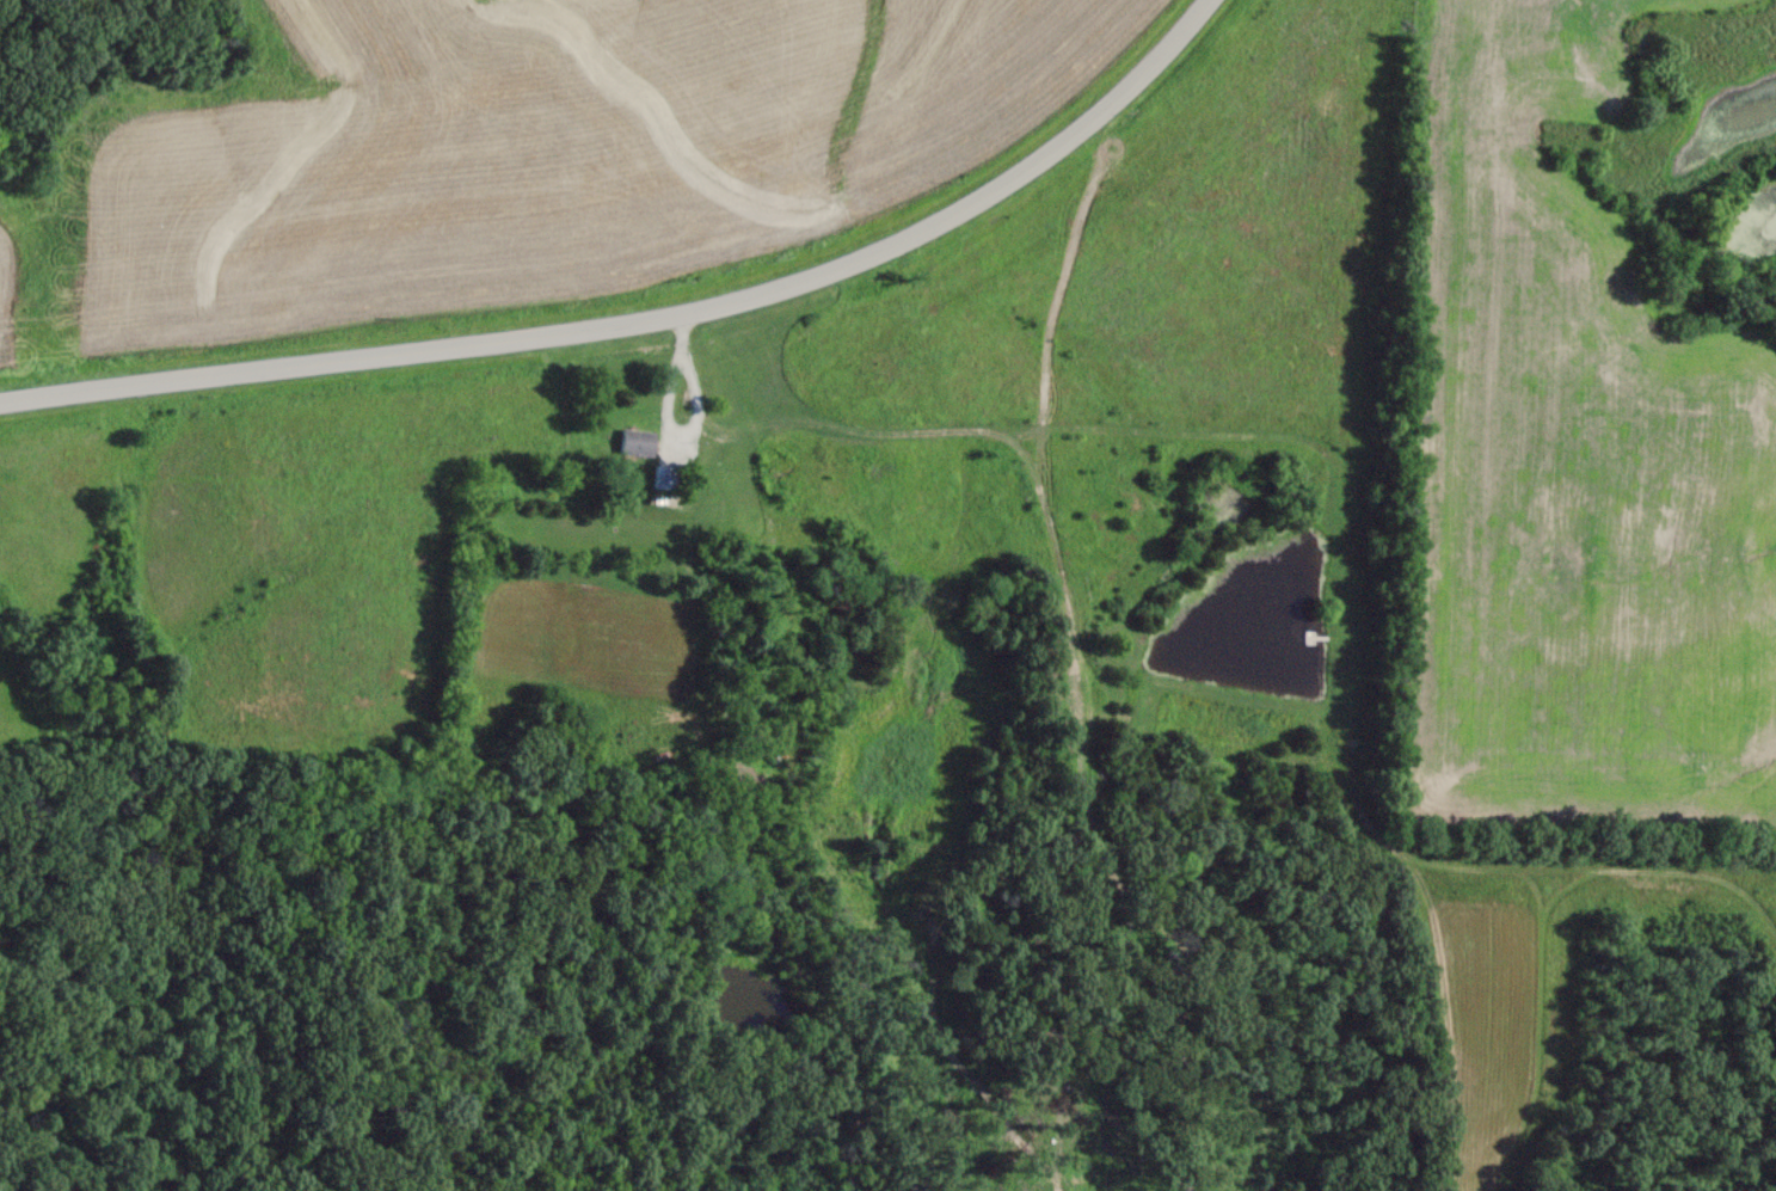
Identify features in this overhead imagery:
road: (649, 315)
road: (684, 334)
road: (696, 417)
building: (637, 444)

